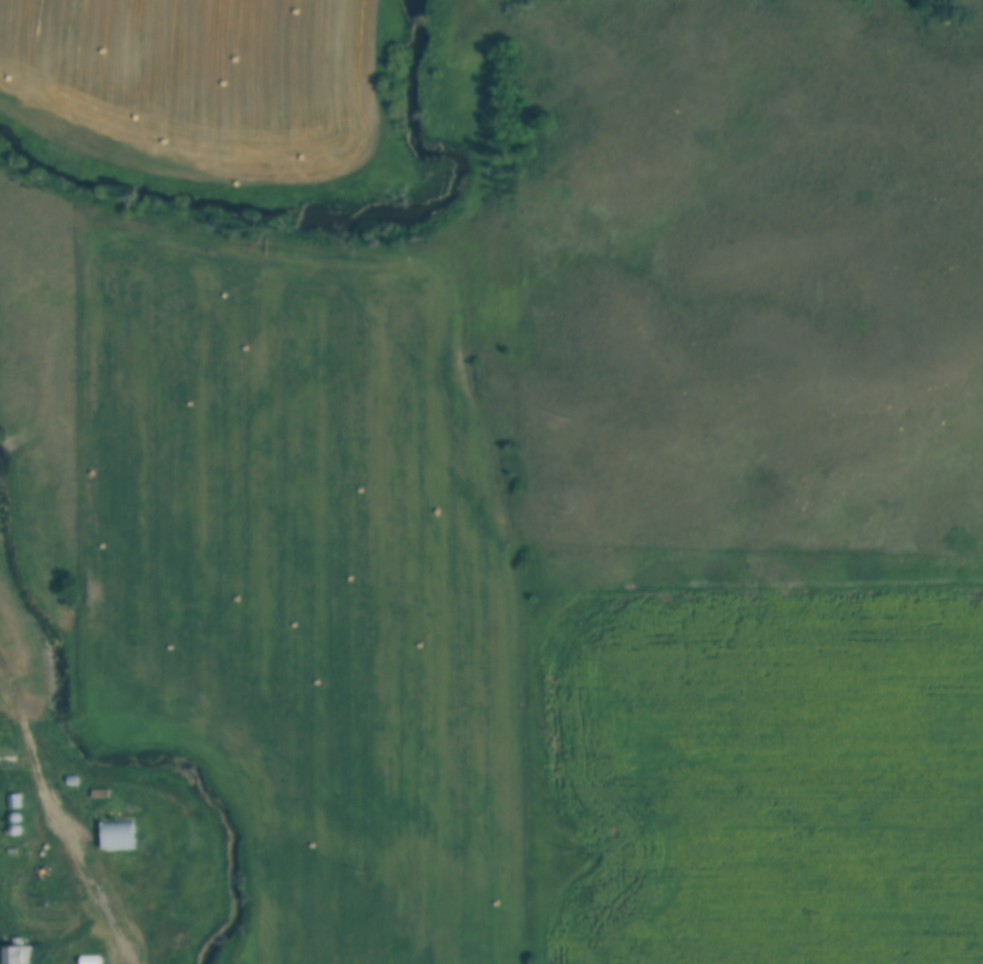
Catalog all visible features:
road: (28, 724)
road: (88, 871)
building: (19, 951)
building: (91, 959)

